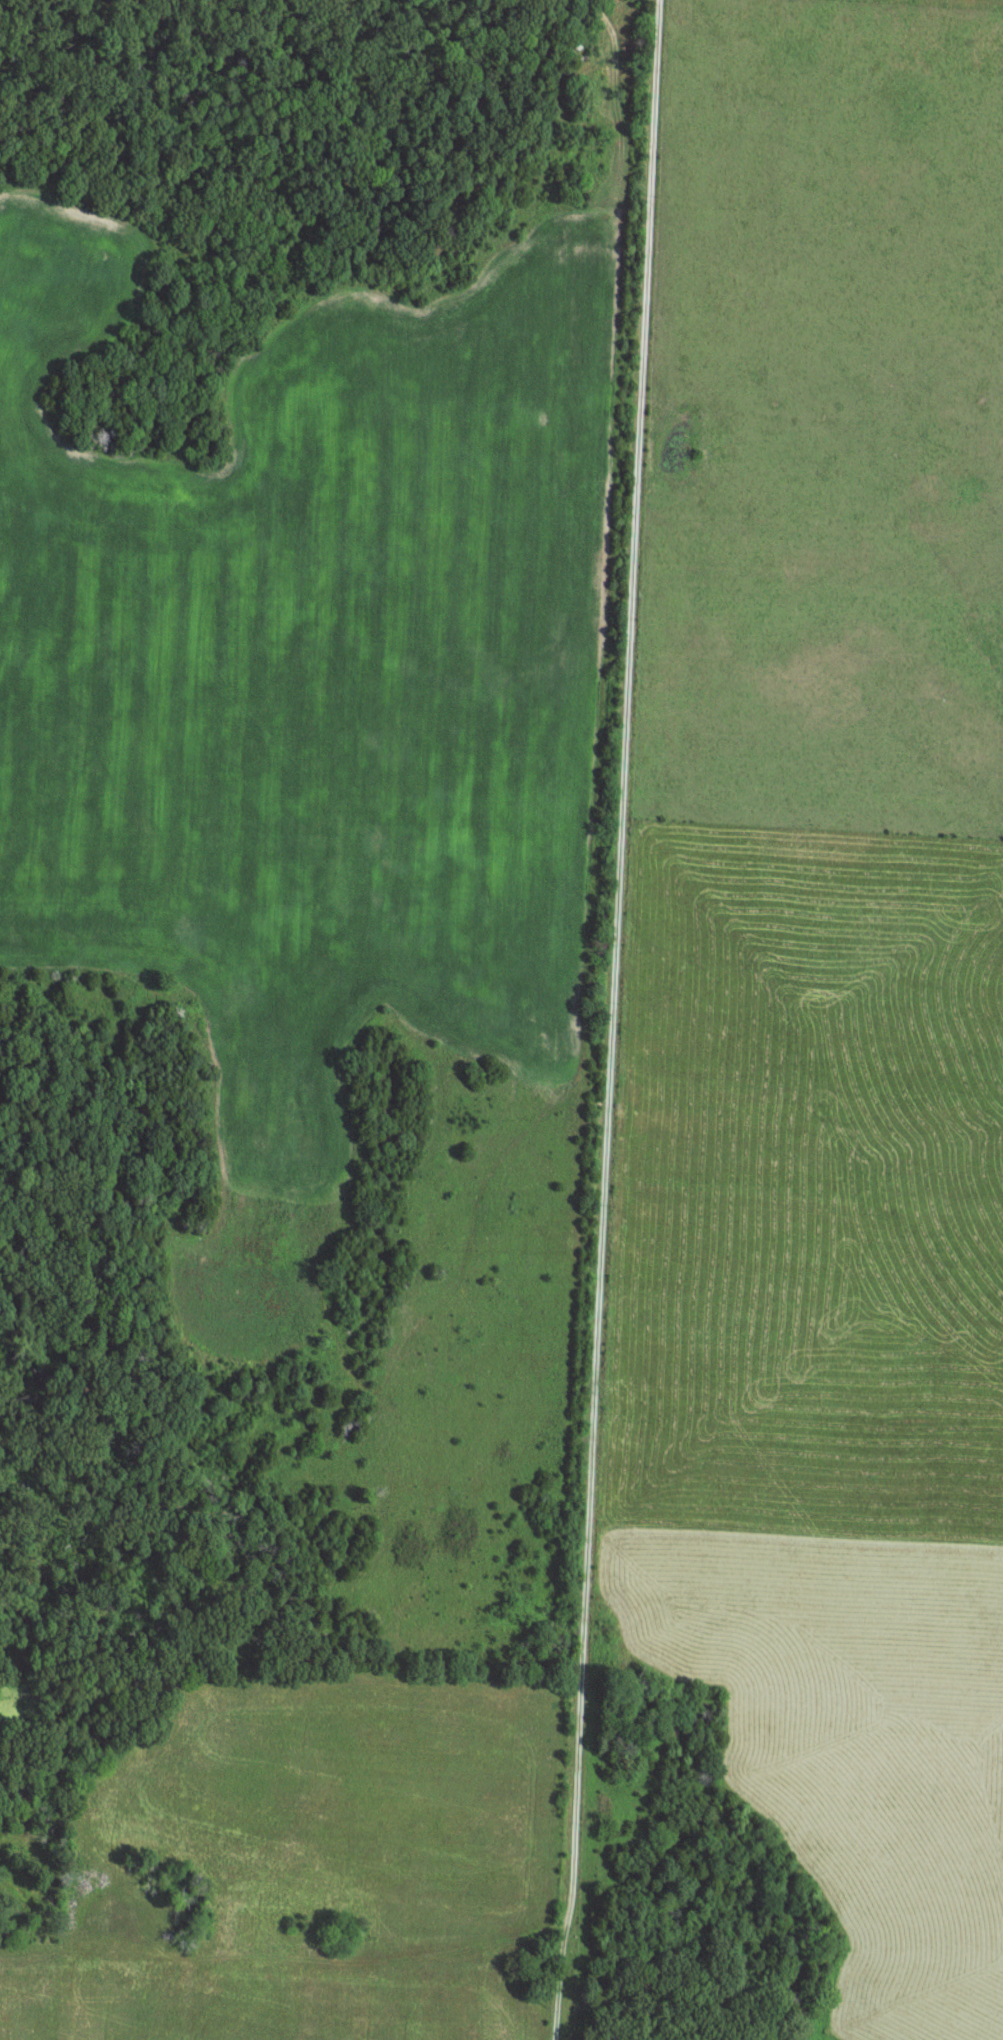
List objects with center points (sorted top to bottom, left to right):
building: (598, 94)
road: (615, 1020)

